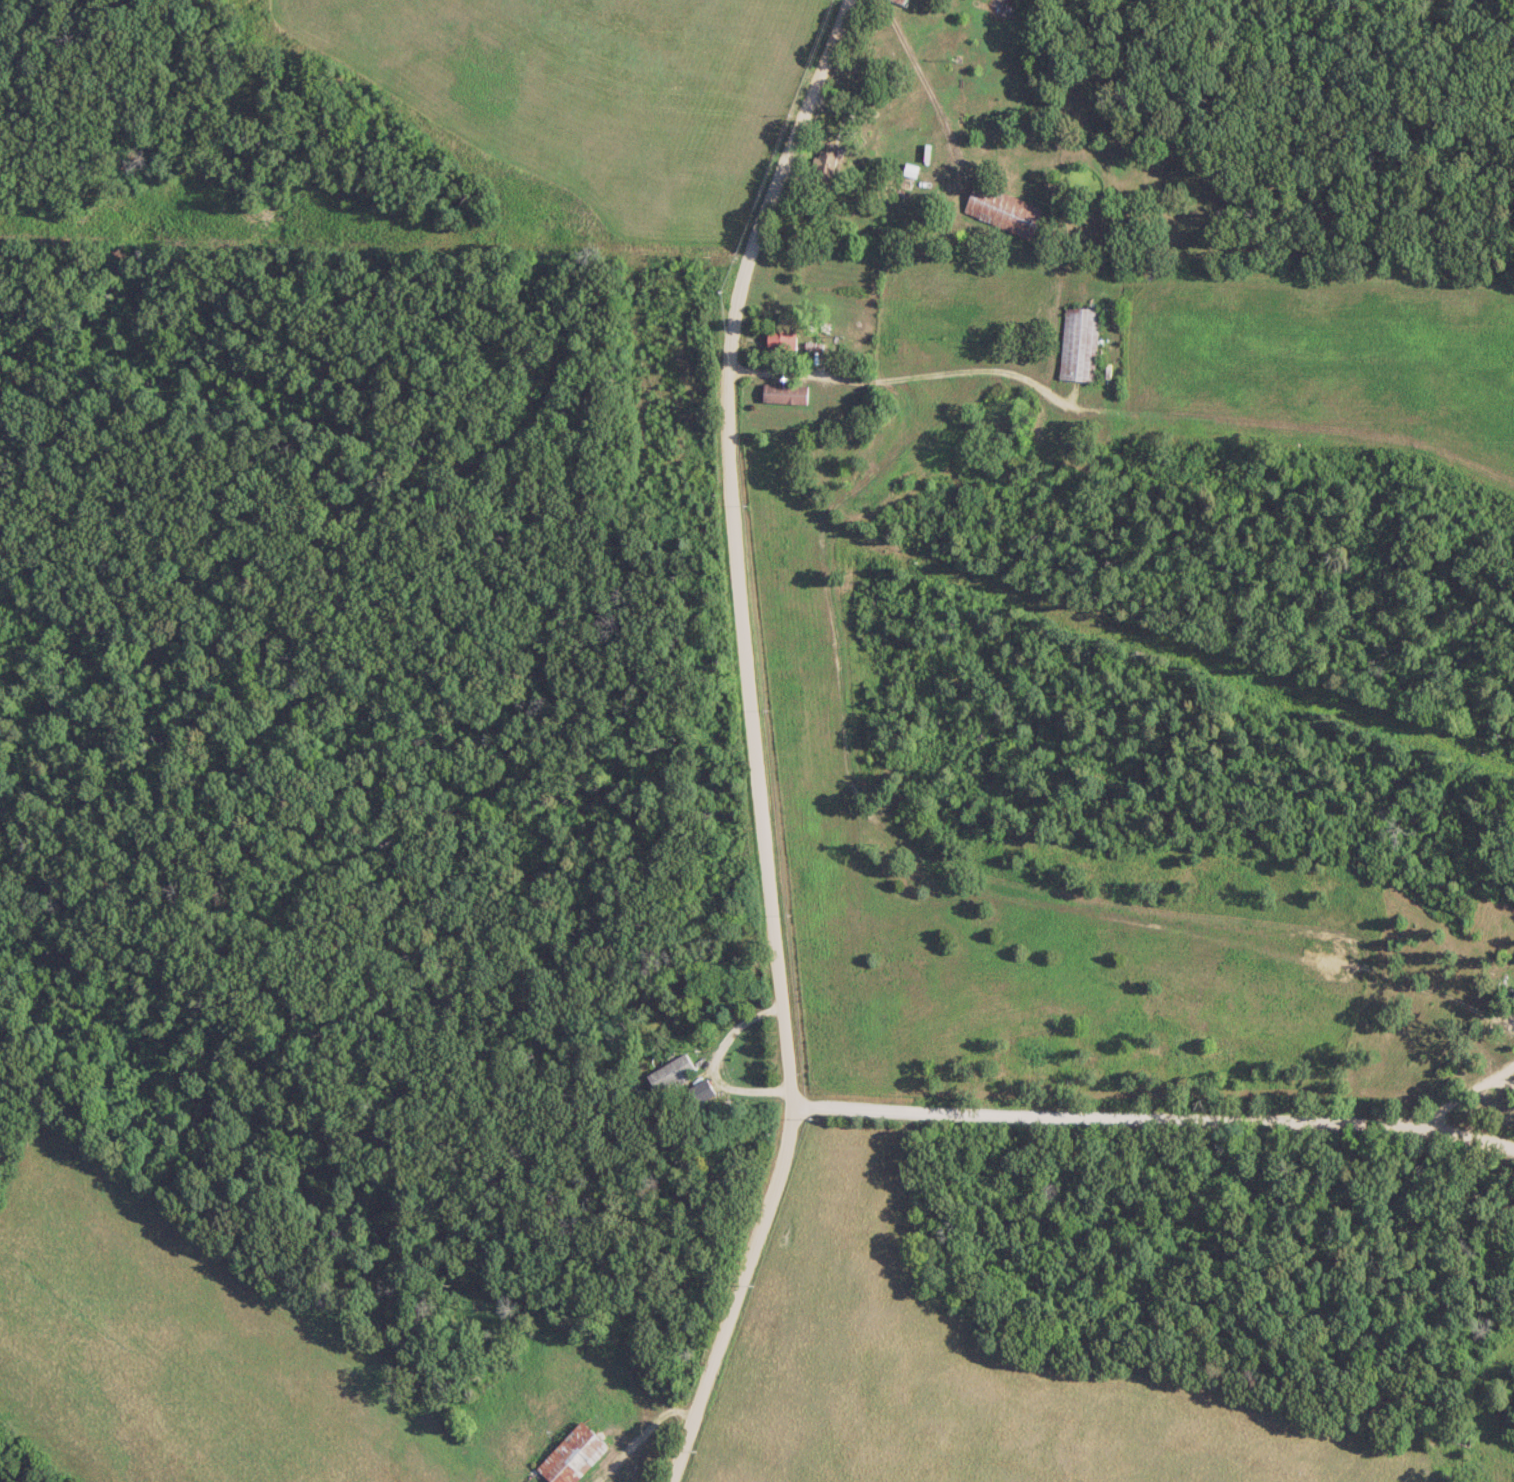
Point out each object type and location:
building: (898, 2)
road: (927, 87)
building: (825, 161)
building: (909, 171)
building: (999, 209)
building: (781, 339)
building: (1077, 343)
road: (896, 377)
road: (397, 471)
road: (749, 741)
building: (1513, 1000)
building: (669, 1072)
road: (1152, 1117)
building: (571, 1455)

